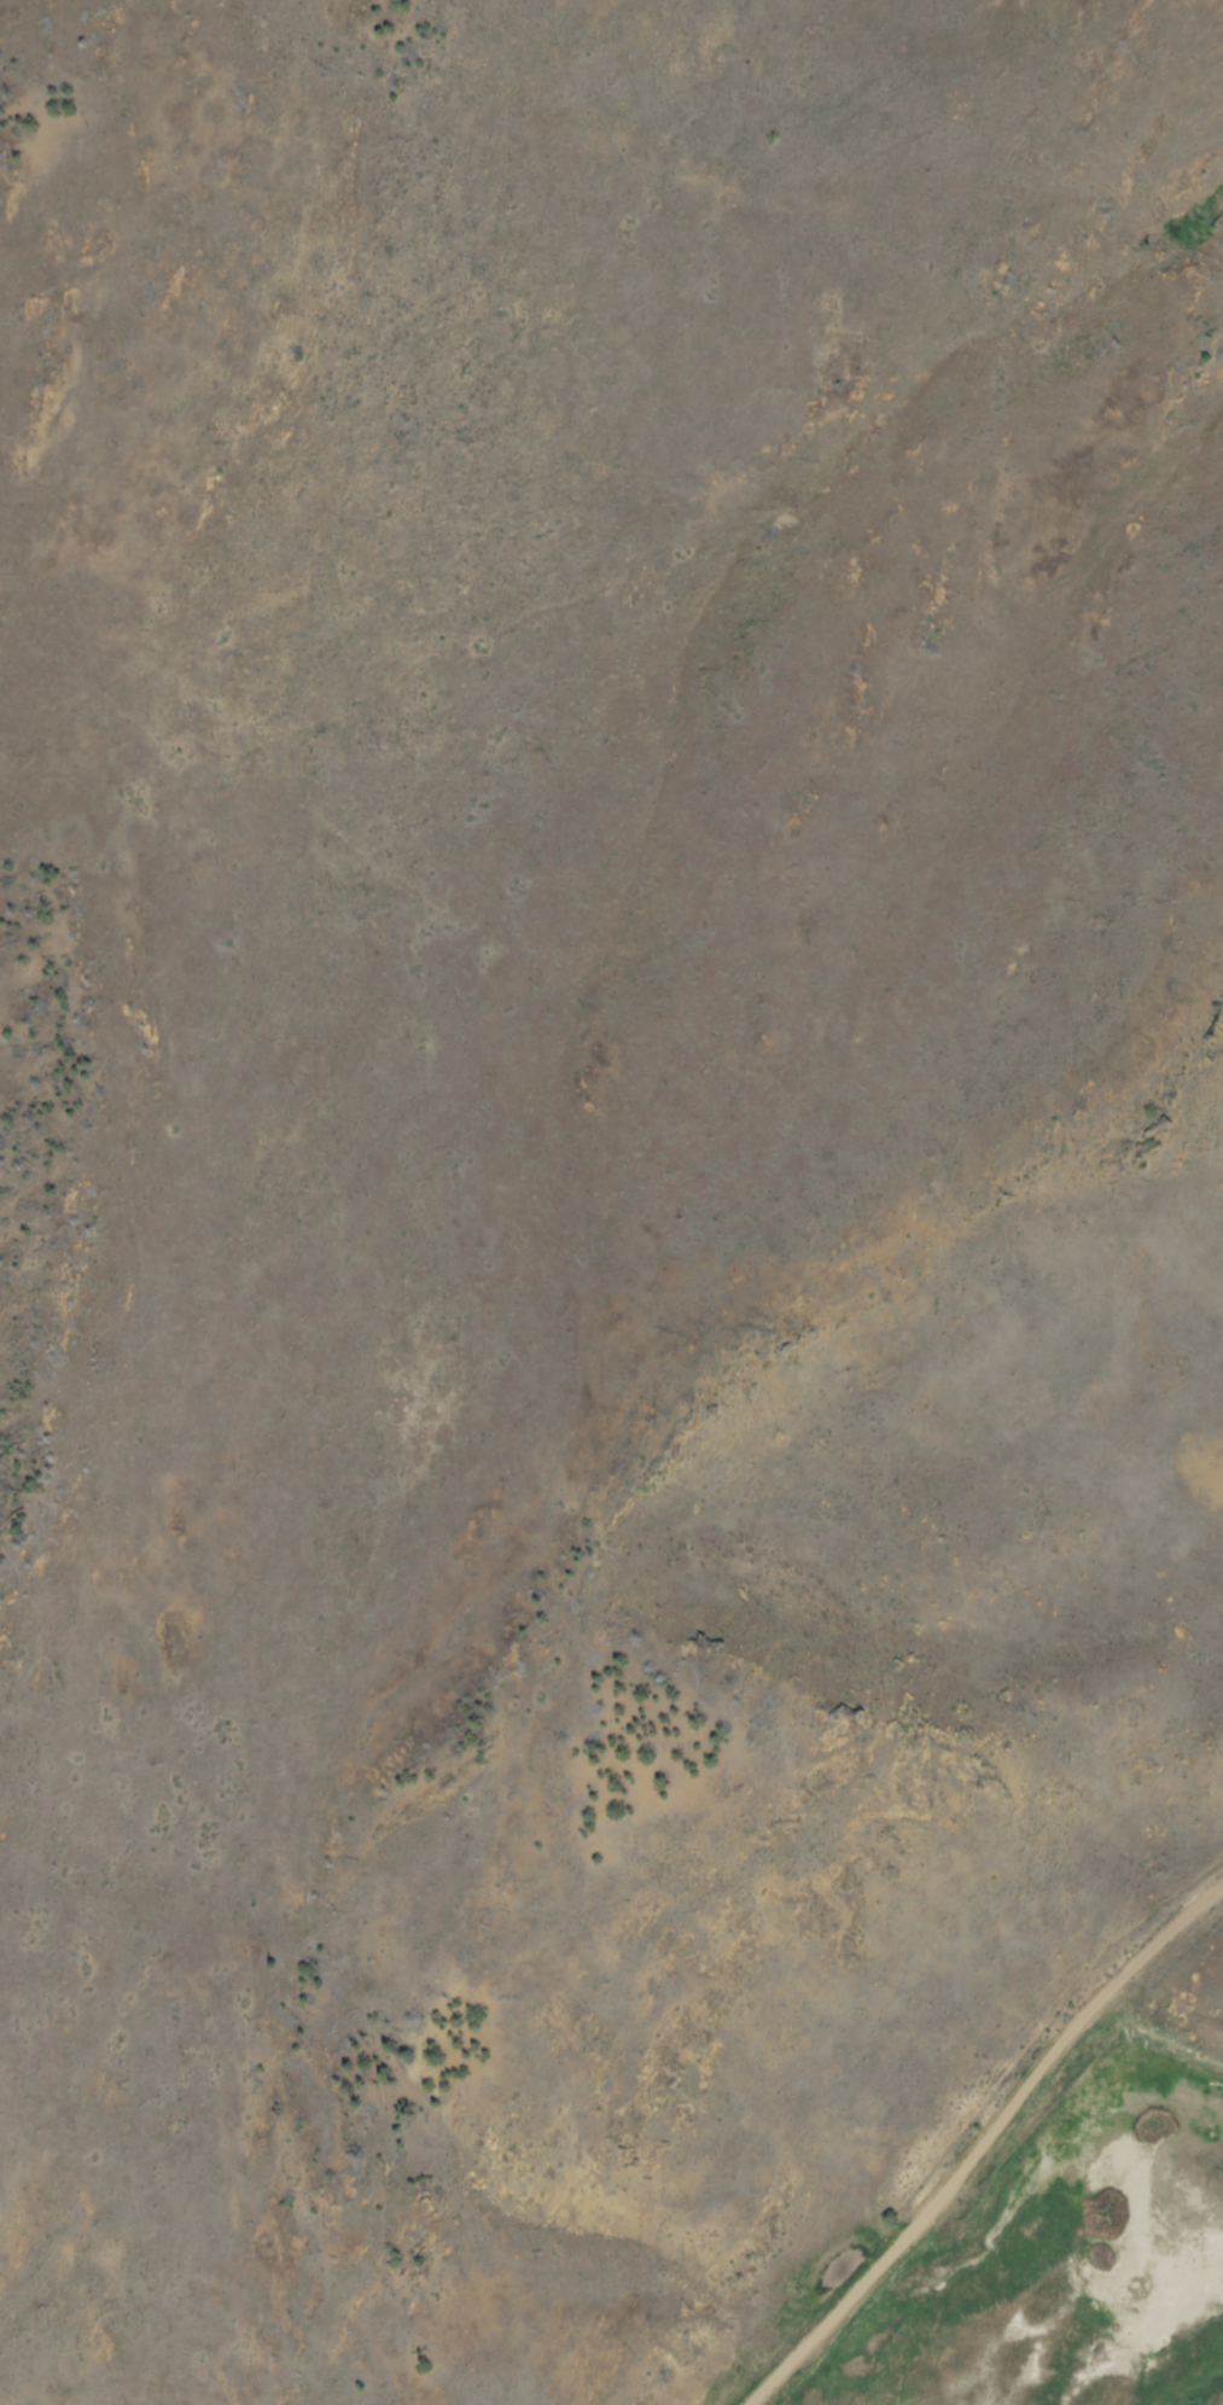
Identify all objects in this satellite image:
road: (983, 2144)

